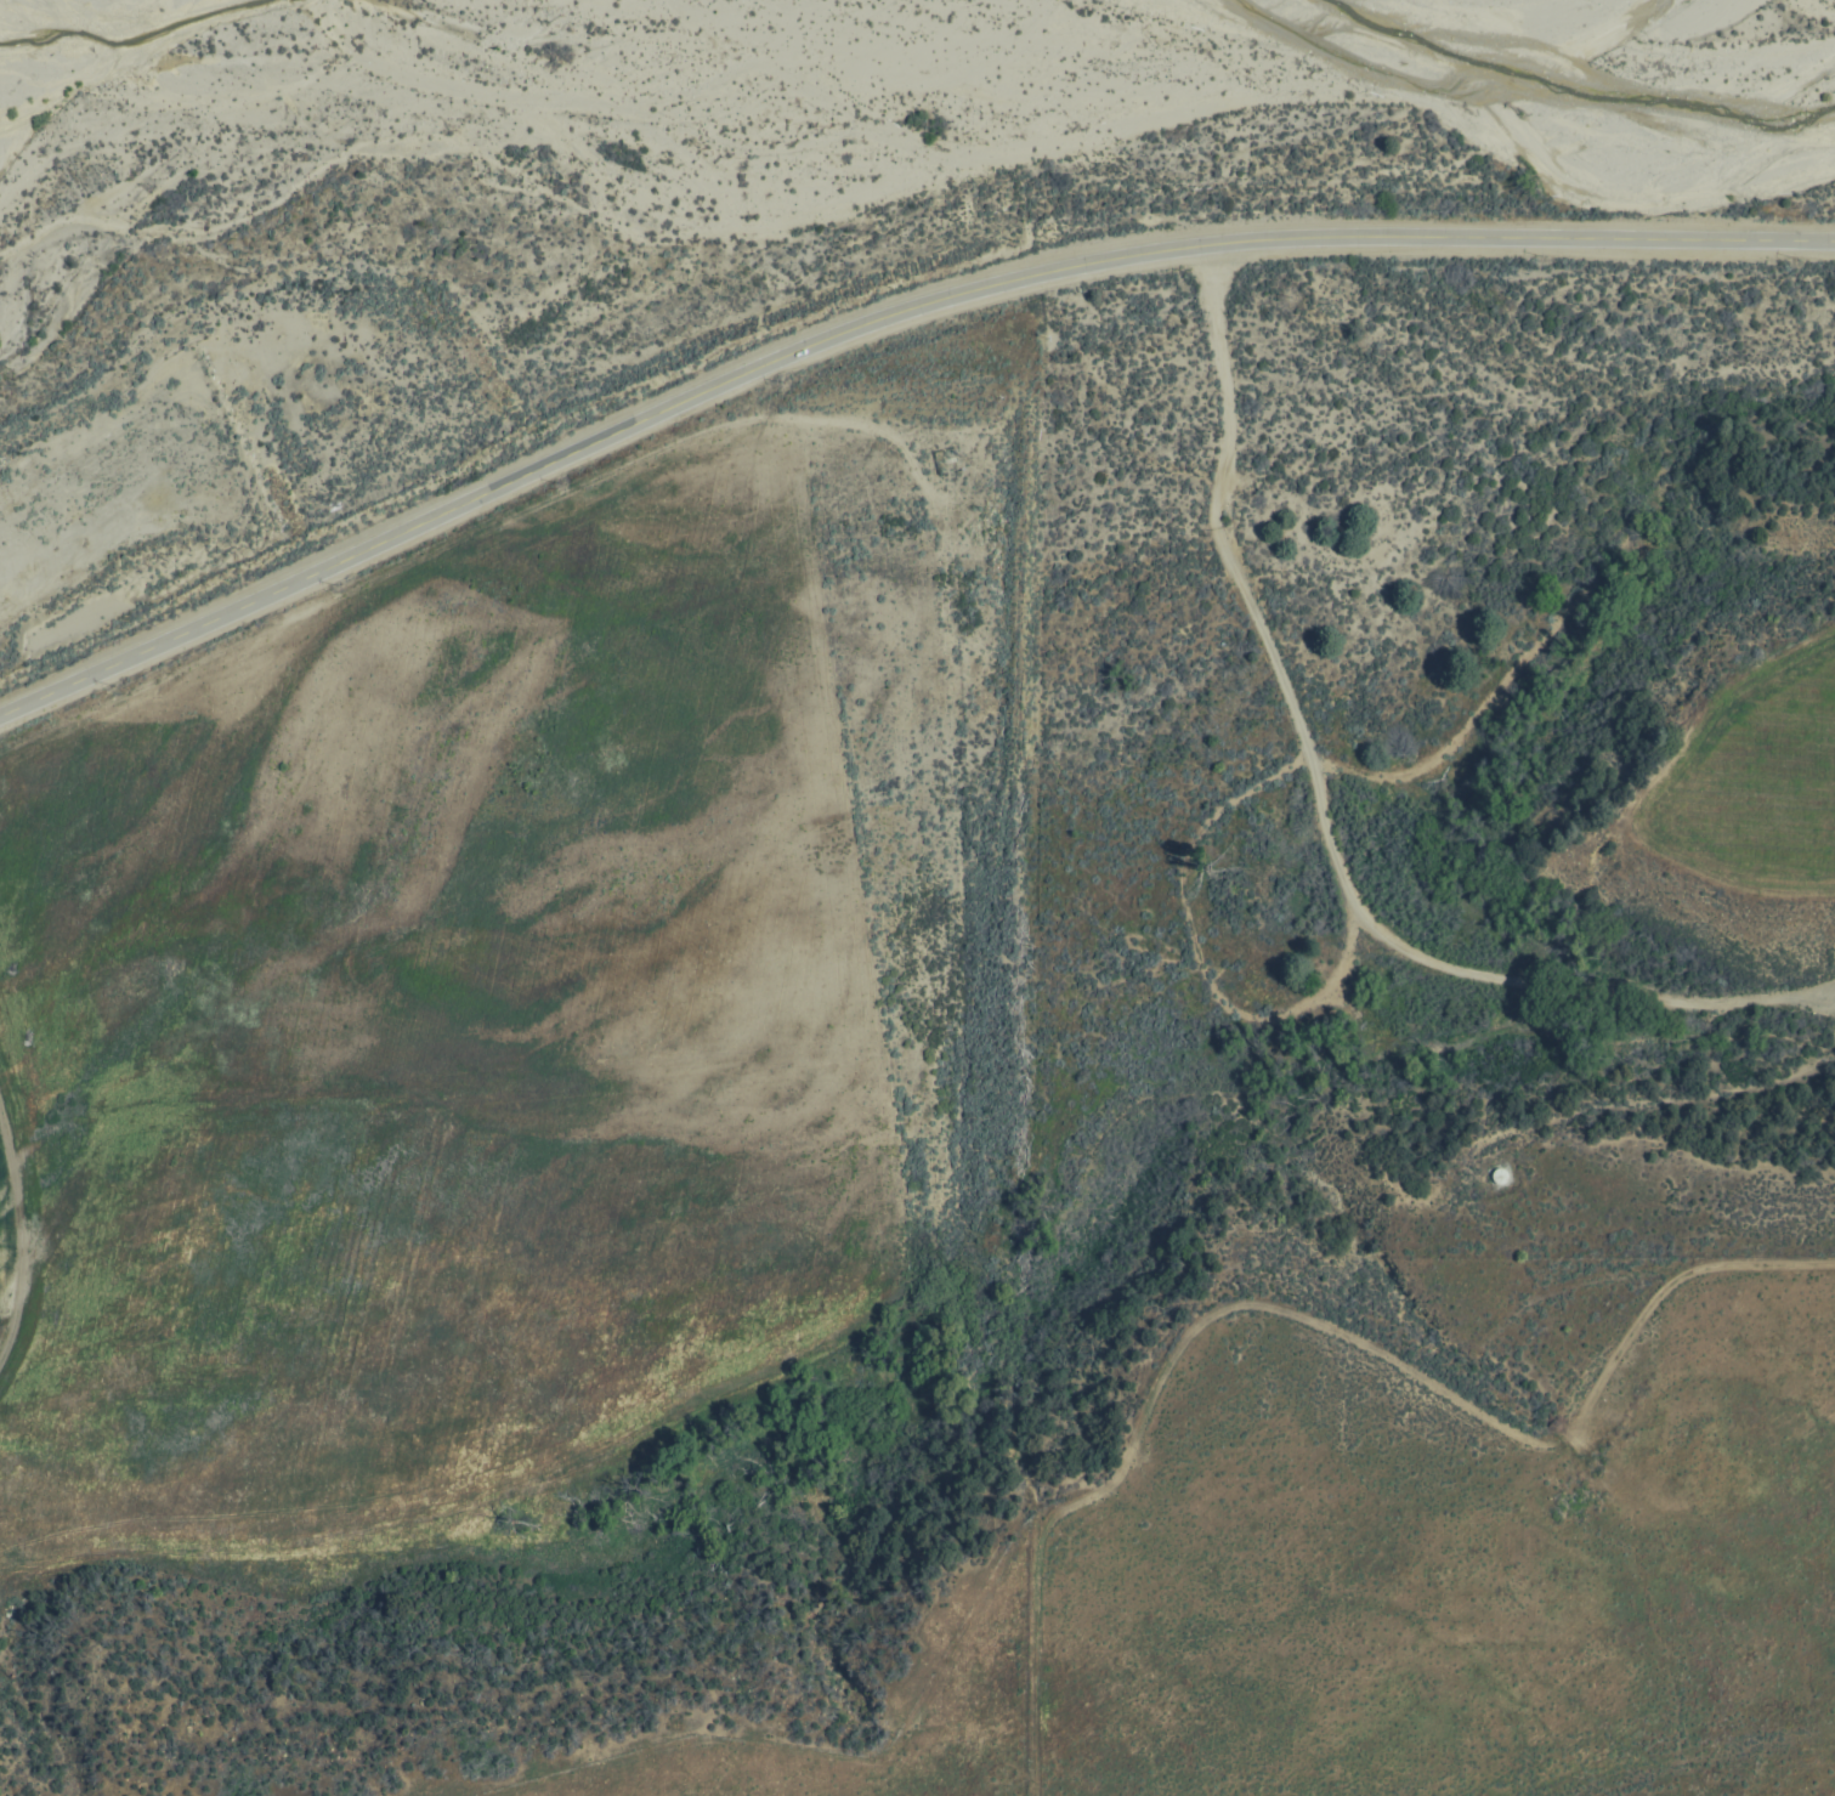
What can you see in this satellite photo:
river: (193, 151)
road: (878, 325)
road: (1319, 825)
road: (1639, 1106)

